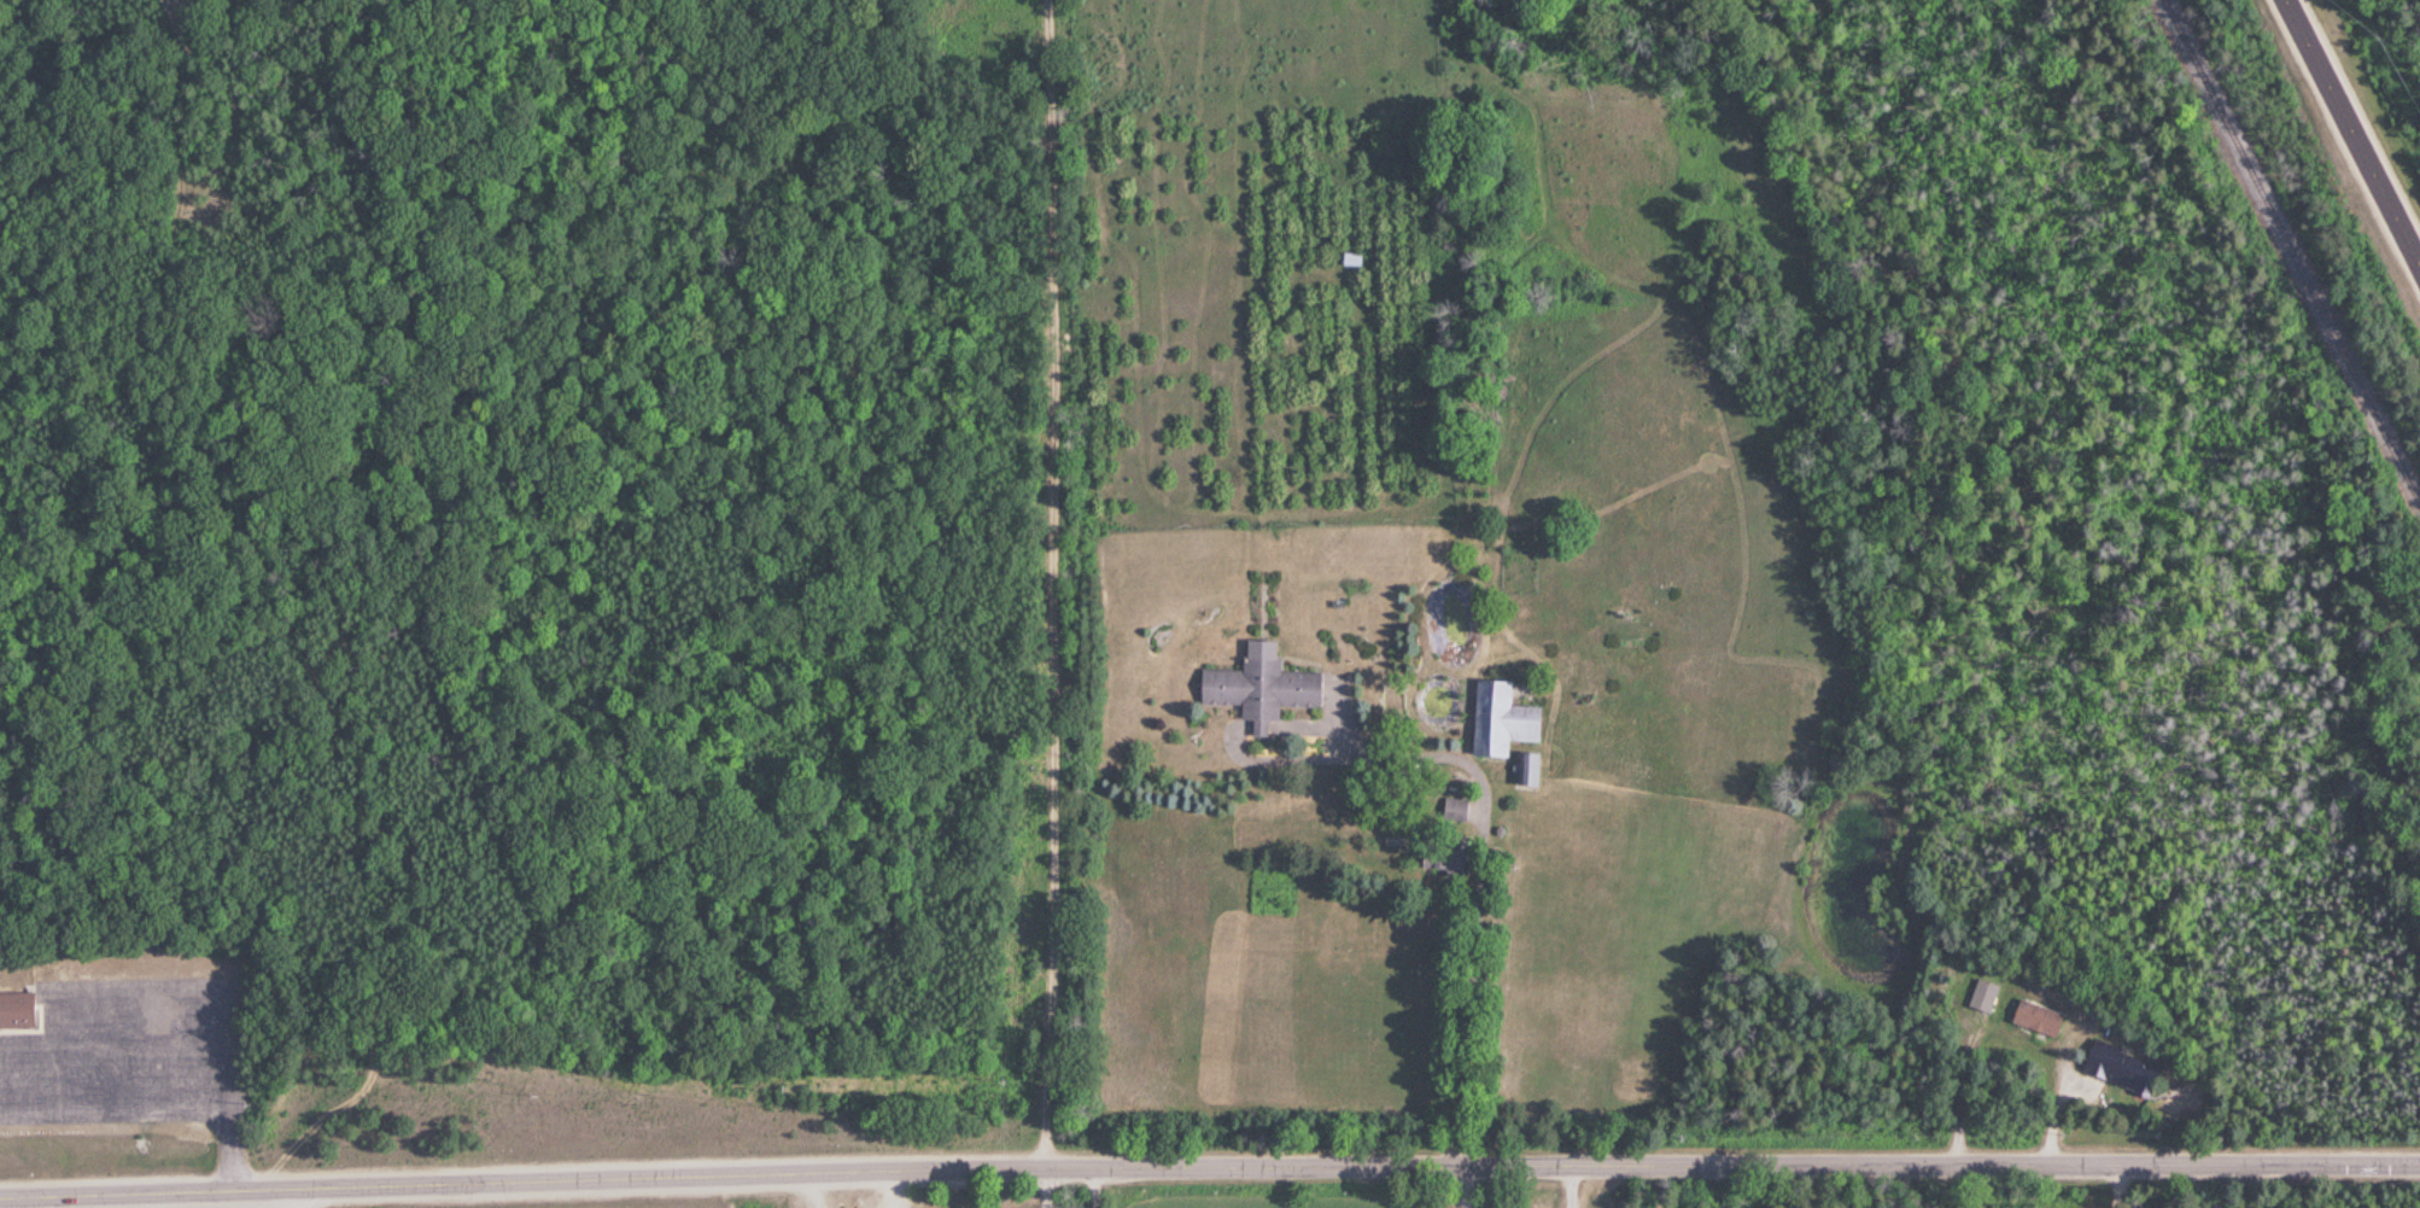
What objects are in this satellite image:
road: (2352, 130)
railway: (2291, 251)
building: (1351, 257)
road: (1056, 582)
road: (265, 597)
building: (1259, 684)
building: (1498, 718)
building: (1527, 769)
building: (1440, 851)
building: (1982, 993)
building: (17, 1008)
building: (2035, 1017)
building: (2120, 1066)
road: (1209, 1163)
road: (2237, 1184)
road: (1051, 1186)
road: (293, 1197)

